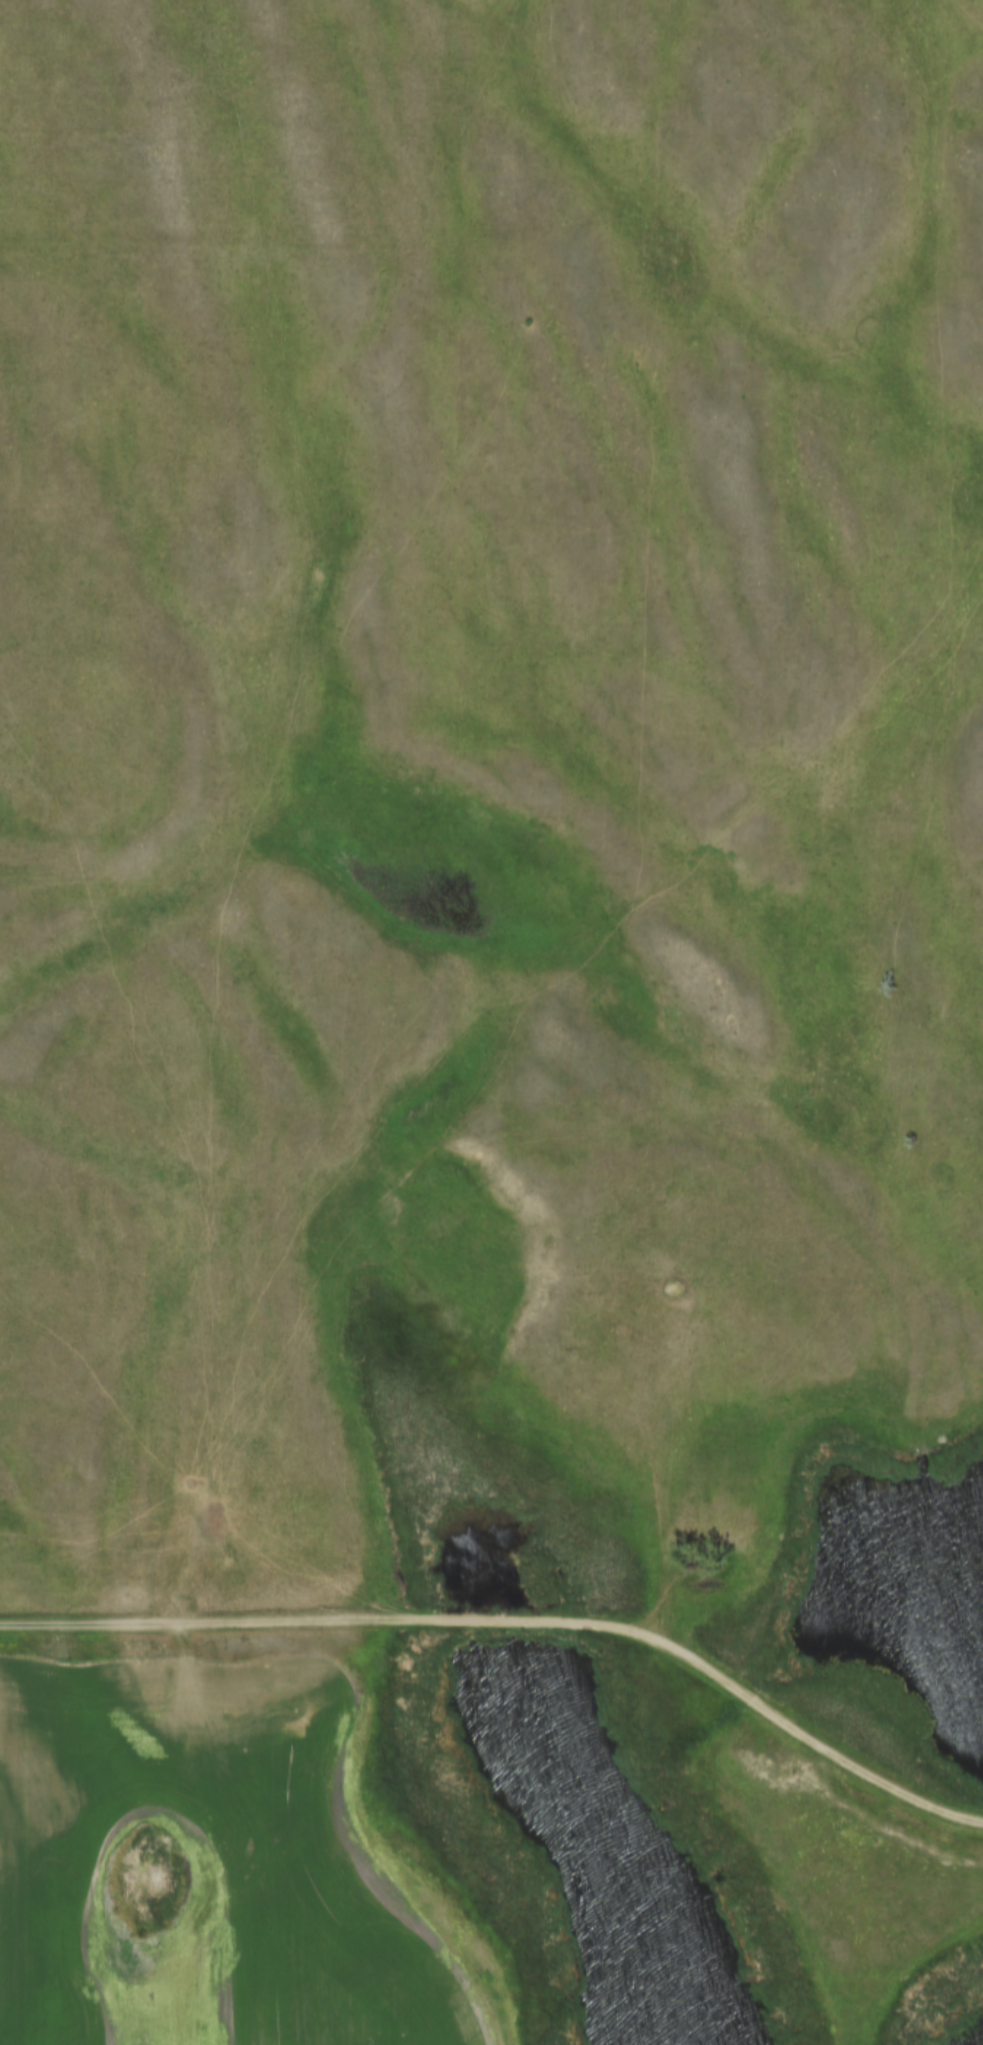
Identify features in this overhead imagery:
road: (517, 1625)

